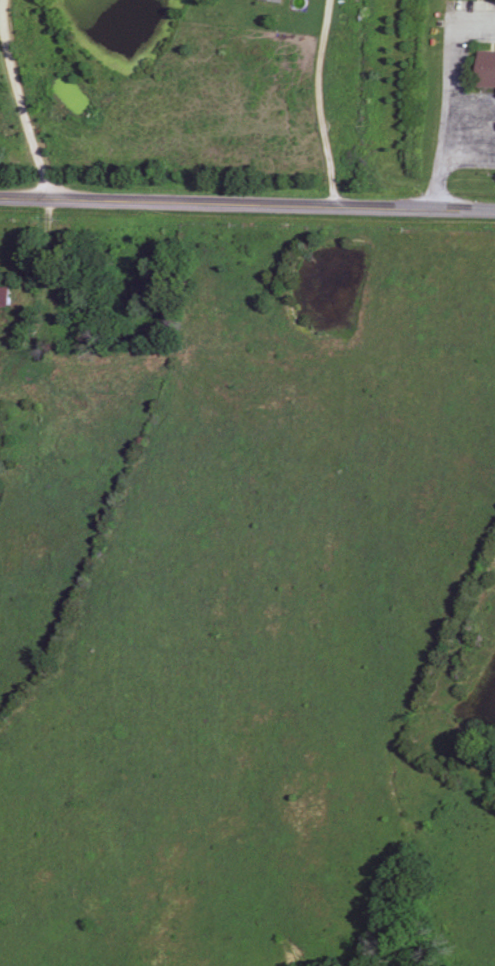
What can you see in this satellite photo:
building: (274, 1)
building: (488, 70)
road: (17, 103)
road: (325, 106)
road: (247, 208)
building: (6, 297)

